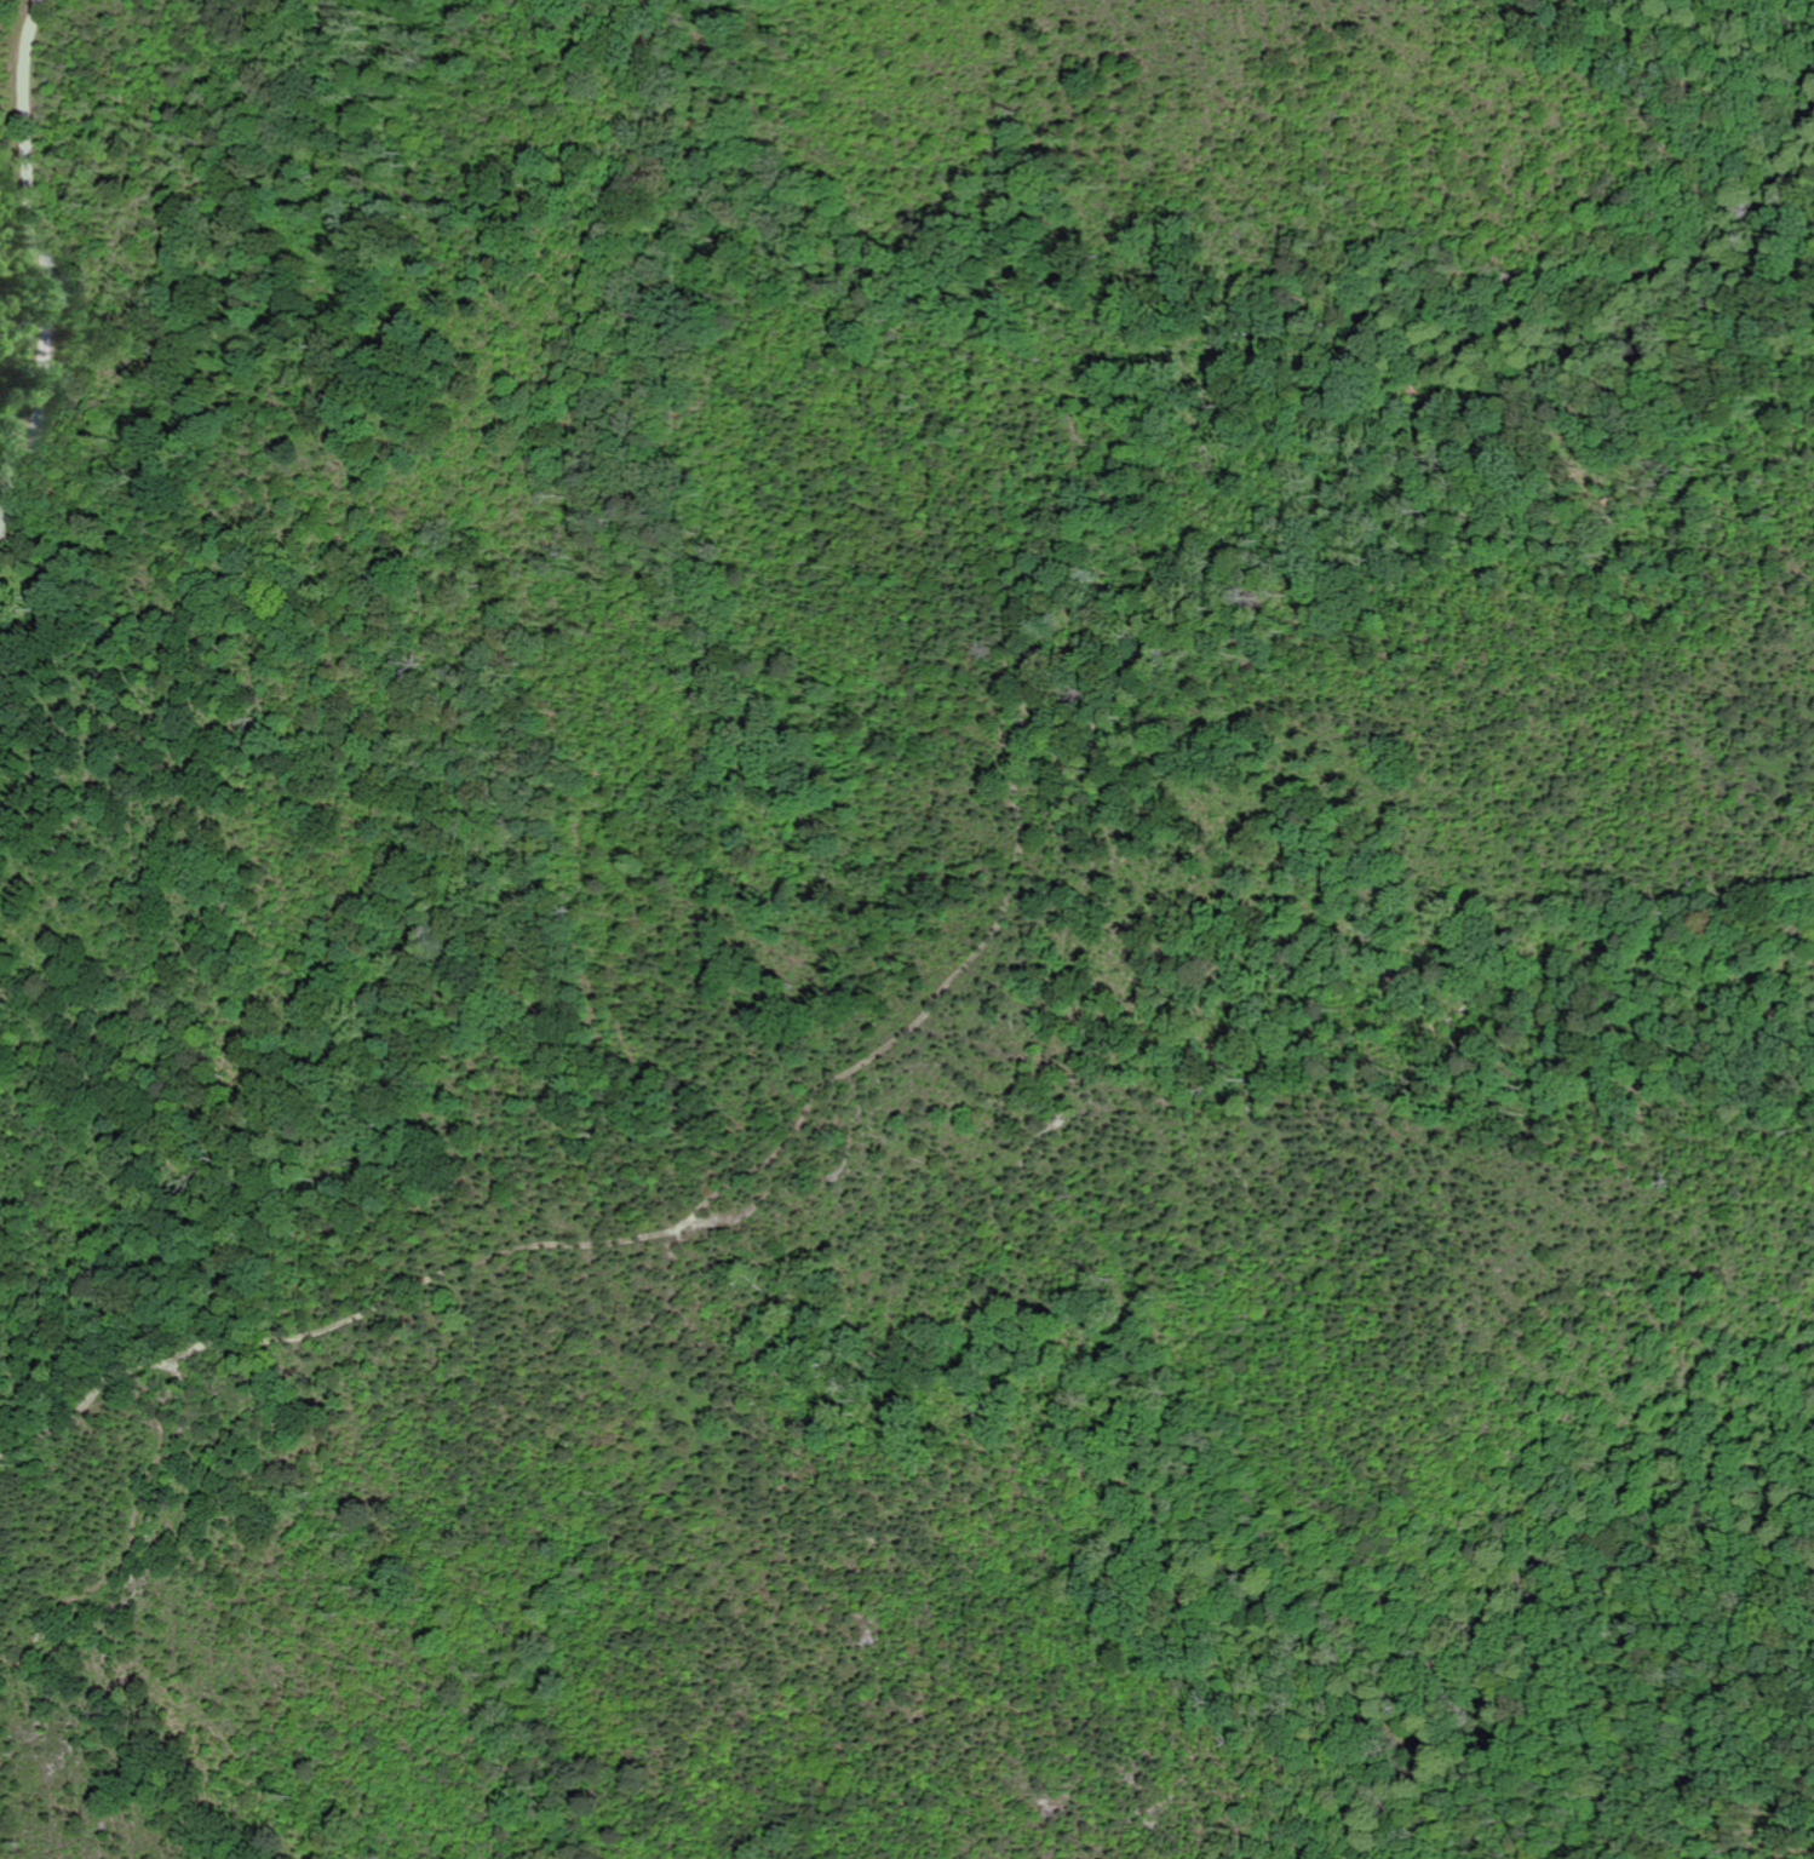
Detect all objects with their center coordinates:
road: (33, 265)

